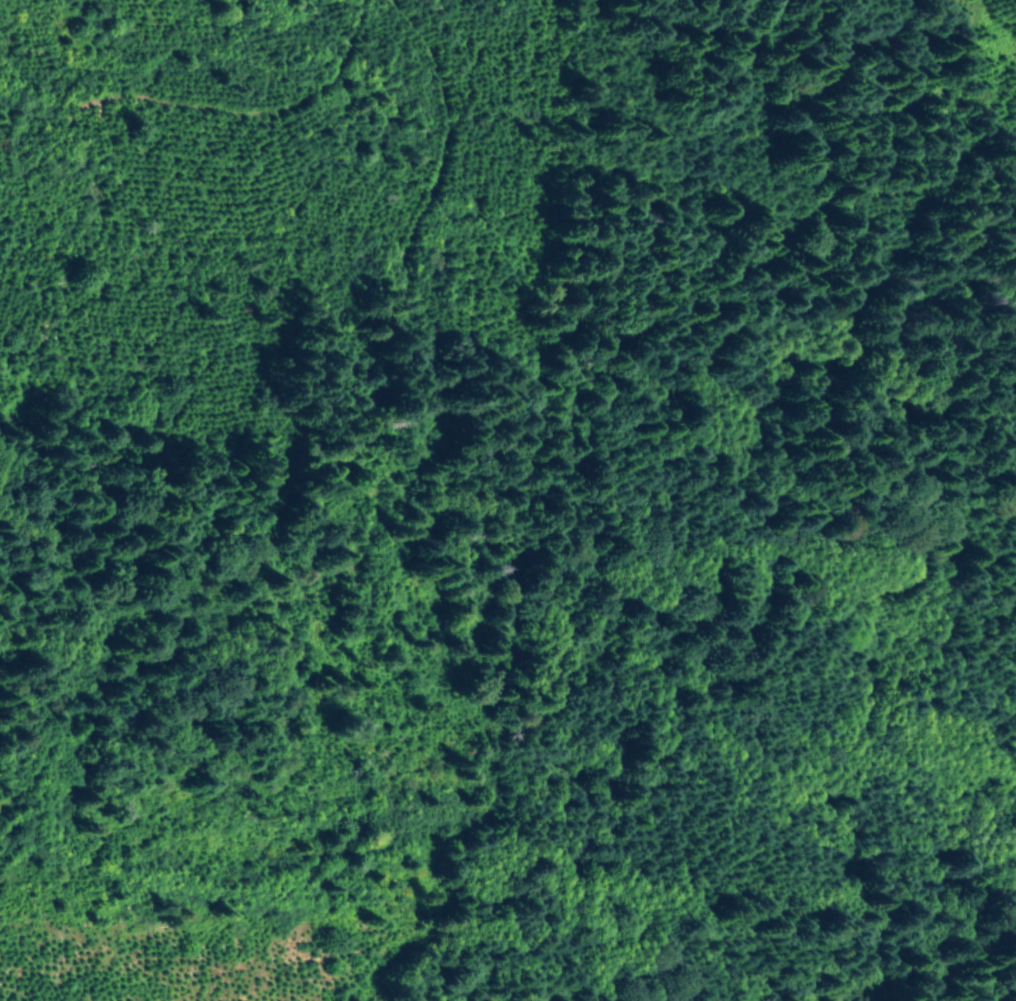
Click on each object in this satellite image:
road: (924, 173)
road: (697, 686)
road: (243, 711)

